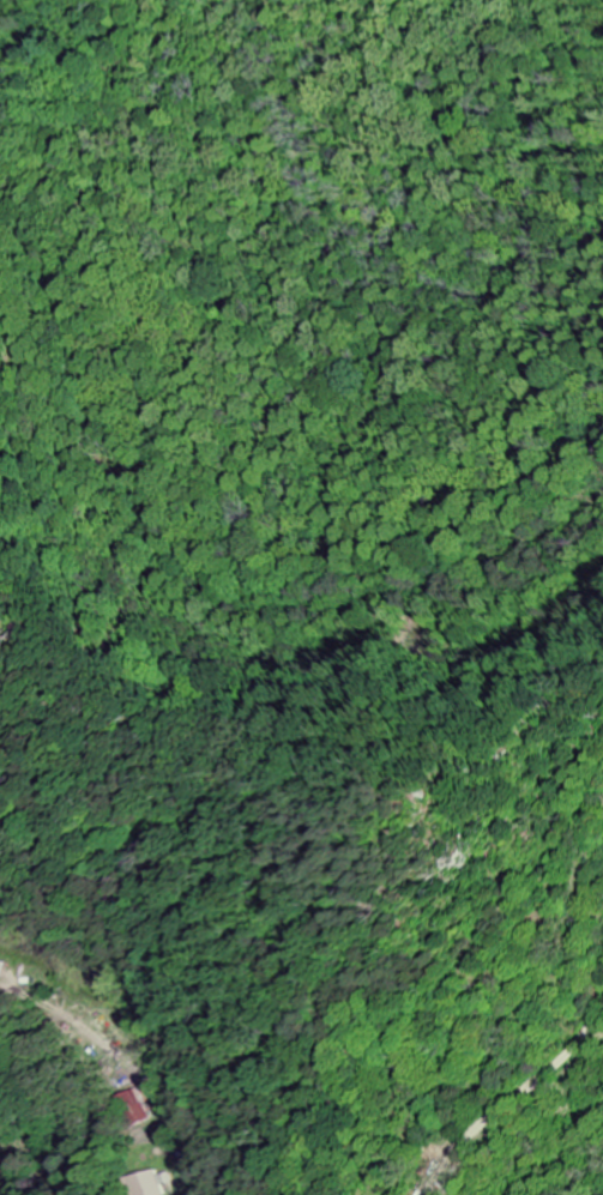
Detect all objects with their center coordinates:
building: (2, 971)
road: (512, 1099)
building: (135, 1109)
building: (152, 1183)

